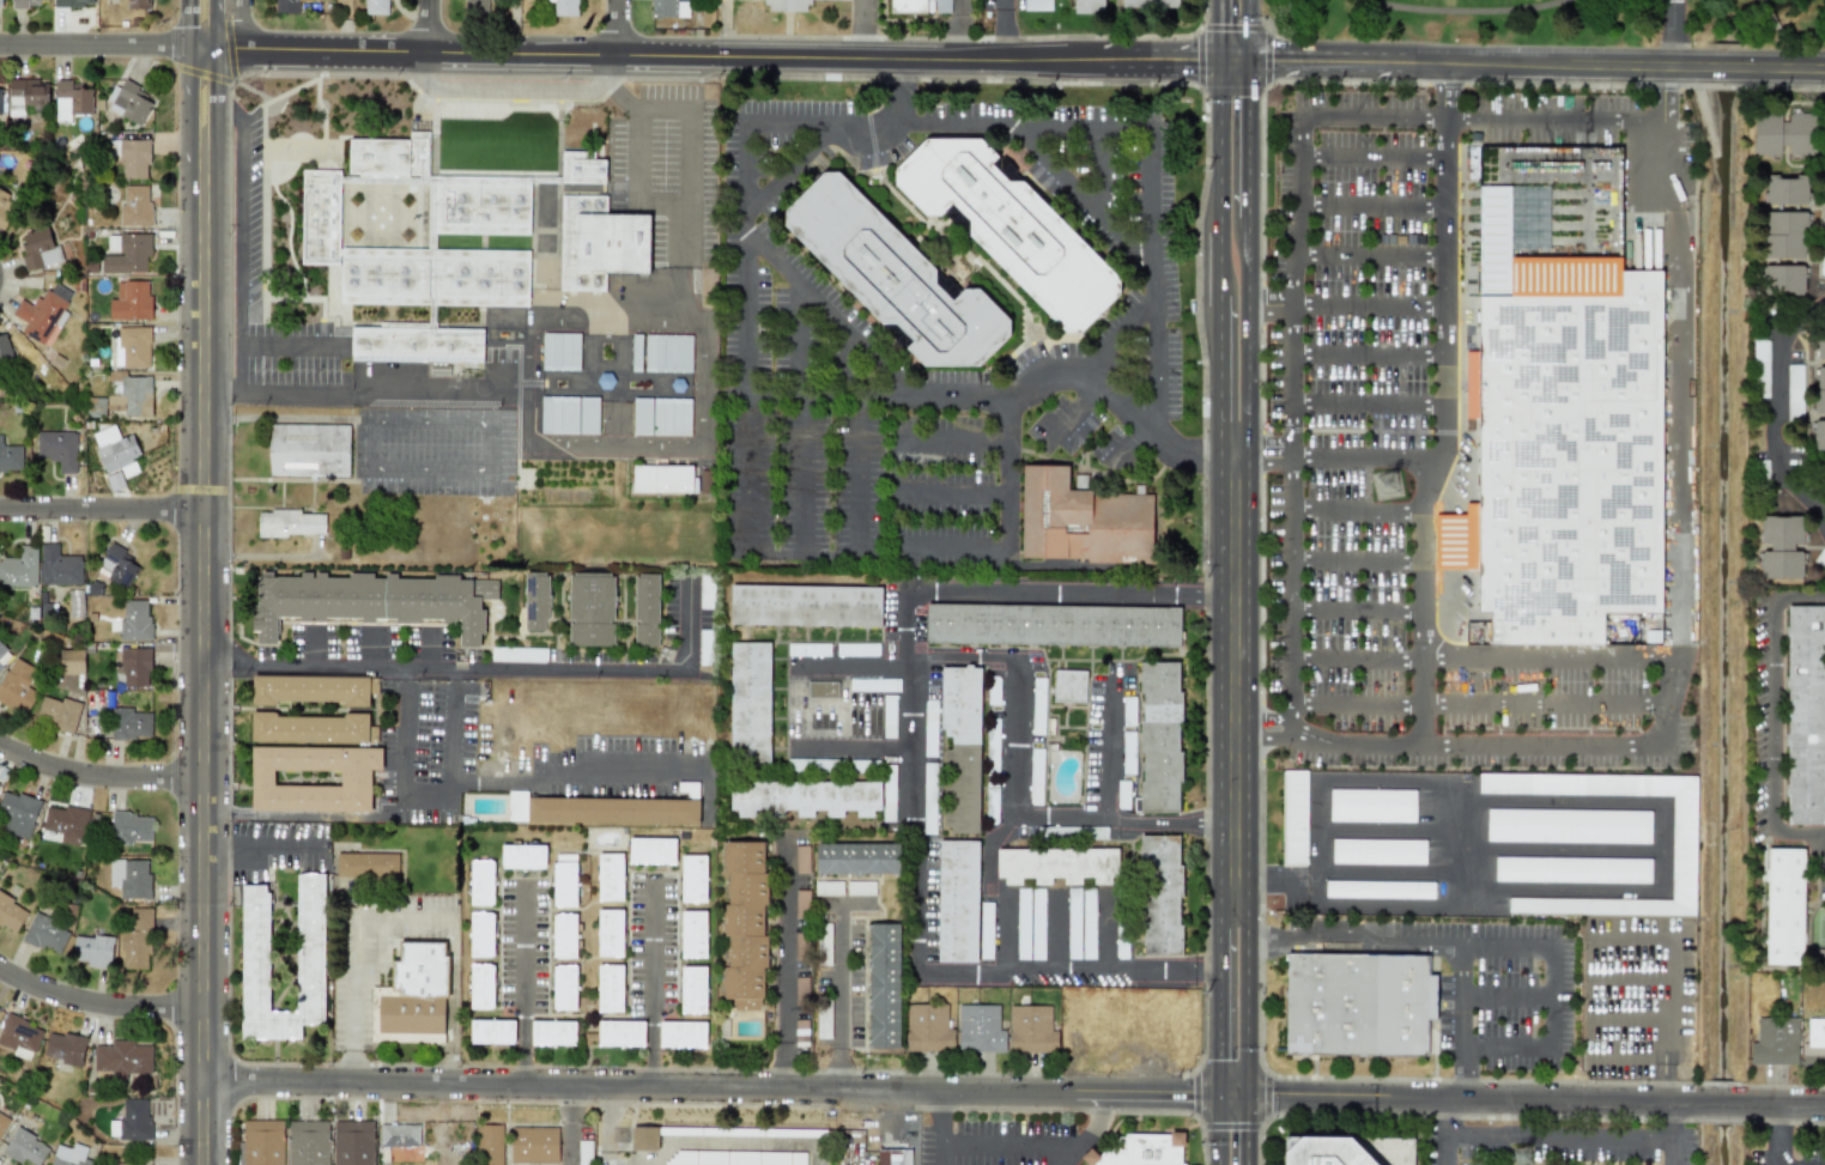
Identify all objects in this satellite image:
building: (43, 0)
building: (0, 2)
building: (73, 2)
building: (474, 2)
building: (1148, 2)
building: (24, 4)
building: (133, 4)
building: (786, 5)
building: (285, 6)
building: (918, 6)
building: (1087, 6)
building: (376, 7)
building: (564, 7)
building: (662, 8)
road: (1769, 12)
road: (1477, 13)
park: (1554, 22)
road: (241, 26)
road: (432, 28)
road: (620, 29)
road: (865, 30)
road: (963, 30)
road: (999, 30)
road: (1223, 31)
road: (1250, 31)
road: (1273, 32)
road: (1669, 32)
road: (1795, 41)
road: (103, 45)
road: (714, 57)
road: (1237, 63)
road: (1473, 66)
road: (1723, 68)
road: (1788, 68)
road: (606, 87)
road: (896, 89)
road: (1445, 91)
road: (1663, 93)
building: (25, 95)
building: (71, 99)
building: (0, 102)
building: (129, 102)
road: (636, 108)
road: (223, 115)
road: (817, 116)
road: (1460, 117)
road: (1130, 121)
building: (1766, 134)
building: (1800, 135)
road: (1251, 141)
road: (1221, 146)
building: (133, 157)
road: (1372, 157)
building: (581, 169)
road: (793, 169)
building: (1824, 170)
road: (1101, 171)
building: (1787, 189)
road: (1372, 201)
building: (134, 206)
building: (374, 219)
building: (1009, 227)
building: (566, 231)
road: (241, 233)
building: (1784, 235)
building: (601, 244)
building: (37, 248)
road: (741, 248)
road: (1372, 248)
building: (416, 251)
building: (128, 254)
road: (684, 261)
road: (1221, 266)
building: (1823, 266)
building: (892, 277)
building: (1783, 280)
building: (129, 301)
road: (1273, 305)
road: (1372, 305)
building: (42, 311)
road: (1117, 328)
road: (1245, 335)
building: (1820, 345)
building: (132, 346)
building: (4, 347)
road: (292, 347)
building: (559, 351)
building: (636, 353)
building: (667, 353)
road: (1371, 354)
building: (1762, 369)
road: (1220, 377)
building: (605, 381)
building: (1819, 389)
building: (1794, 392)
road: (223, 393)
building: (128, 394)
road: (825, 395)
road: (1370, 402)
road: (363, 407)
road: (1074, 408)
building: (569, 414)
building: (642, 415)
road: (1776, 415)
building: (671, 417)
road: (428, 421)
road: (1436, 430)
building: (1819, 435)
road: (950, 442)
building: (1560, 442)
road: (362, 445)
road: (1126, 445)
road: (491, 447)
building: (57, 448)
road: (1265, 448)
road: (610, 449)
building: (115, 450)
building: (308, 450)
building: (10, 457)
road: (1363, 457)
road: (850, 466)
road: (425, 471)
building: (662, 479)
power tower: (1389, 487)
road: (951, 492)
road: (103, 511)
road: (1362, 512)
building: (1081, 520)
building: (289, 523)
road: (1006, 523)
building: (1781, 546)
road: (1362, 560)
building: (116, 565)
building: (59, 566)
building: (19, 568)
road: (206, 582)
building: (705, 591)
building: (371, 600)
building: (535, 600)
building: (805, 606)
building: (592, 609)
road: (1360, 609)
building: (645, 611)
building: (134, 620)
road: (685, 624)
building: (1053, 625)
building: (705, 648)
road: (310, 649)
road: (370, 649)
road: (426, 649)
building: (808, 649)
building: (857, 649)
building: (4, 655)
building: (516, 655)
road: (1359, 657)
building: (71, 661)
road: (850, 663)
building: (135, 667)
road: (448, 668)
road: (1238, 680)
road: (1012, 682)
building: (874, 685)
building: (17, 686)
building: (1068, 686)
building: (313, 688)
building: (823, 690)
building: (993, 690)
road: (1669, 691)
road: (1466, 699)
building: (750, 703)
building: (1037, 705)
building: (1128, 710)
building: (57, 712)
building: (1805, 715)
building: (889, 716)
road: (1771, 718)
building: (129, 723)
road: (1266, 726)
building: (929, 727)
building: (310, 728)
building: (1159, 736)
road: (1356, 742)
building: (993, 745)
building: (960, 747)
road: (850, 748)
road: (1108, 748)
building: (1128, 753)
road: (572, 764)
road: (910, 771)
building: (1035, 776)
building: (307, 777)
road: (99, 778)
building: (356, 778)
building: (689, 789)
building: (889, 793)
building: (1122, 794)
building: (929, 796)
building: (805, 797)
road: (424, 799)
building: (992, 800)
road: (1635, 802)
building: (1371, 805)
building: (600, 809)
building: (17, 813)
road: (305, 814)
road: (1036, 817)
building: (1293, 818)
building: (65, 821)
building: (1568, 826)
building: (128, 827)
road: (1402, 830)
building: (1682, 847)
road: (1560, 849)
road: (262, 850)
building: (651, 850)
road: (1819, 850)
building: (1378, 851)
road: (1461, 852)
building: (522, 856)
building: (801, 858)
building: (856, 858)
building: (366, 864)
building: (1056, 864)
building: (1572, 869)
road: (1395, 870)
building: (610, 876)
building: (129, 878)
building: (692, 879)
building: (564, 880)
building: (480, 882)
road: (1250, 882)
building: (860, 887)
building: (827, 888)
building: (1380, 890)
building: (1160, 896)
building: (957, 902)
road: (856, 906)
building: (1783, 906)
building: (11, 914)
road: (404, 918)
building: (1023, 923)
building: (1037, 923)
building: (1073, 923)
building: (1087, 923)
building: (744, 924)
park: (1815, 928)
building: (986, 930)
building: (46, 934)
building: (480, 934)
building: (610, 934)
building: (692, 934)
road: (1055, 934)
road: (1106, 935)
building: (564, 936)
building: (137, 939)
road: (1504, 943)
building: (91, 949)
building: (254, 952)
road: (783, 961)
road: (1626, 975)
road: (651, 983)
road: (521, 984)
building: (883, 985)
building: (481, 987)
building: (564, 988)
building: (610, 988)
building: (692, 989)
road: (841, 989)
road: (1669, 989)
building: (801, 990)
building: (414, 994)
road: (1508, 996)
road: (1461, 999)
building: (1357, 1001)
road: (1221, 1002)
road: (1249, 1002)
road: (98, 1003)
road: (1629, 1018)
building: (823, 1023)
building: (928, 1029)
building: (980, 1029)
building: (1031, 1030)
building: (491, 1031)
building: (552, 1032)
building: (18, 1033)
building: (620, 1033)
building: (681, 1034)
building: (1775, 1042)
building: (1814, 1043)
building: (63, 1048)
building: (122, 1057)
road: (352, 1067)
road: (453, 1068)
road: (1459, 1078)
road: (1671, 1080)
road: (714, 1087)
road: (1236, 1097)
road: (1536, 1102)
road: (1453, 1118)
road: (1671, 1120)
building: (131, 1121)
building: (2, 1122)
road: (572, 1125)
road: (607, 1125)
road: (1091, 1127)
road: (1221, 1130)
road: (1248, 1130)
building: (763, 1131)
building: (399, 1135)
road: (1559, 1135)
road: (1772, 1136)
building: (643, 1139)
road: (986, 1141)
building: (261, 1142)
building: (308, 1142)
building: (353, 1142)
road: (759, 1142)
building: (489, 1143)
building: (534, 1145)
building: (24, 1148)
building: (1142, 1149)
building: (1390, 1149)
road: (1671, 1149)
road: (1449, 1151)
building: (1323, 1152)
building: (584, 1153)
road: (942, 1153)
building: (69, 1155)
building: (893, 1157)
building: (734, 1158)
power tower: (1522, 1158)
building: (120, 1164)

